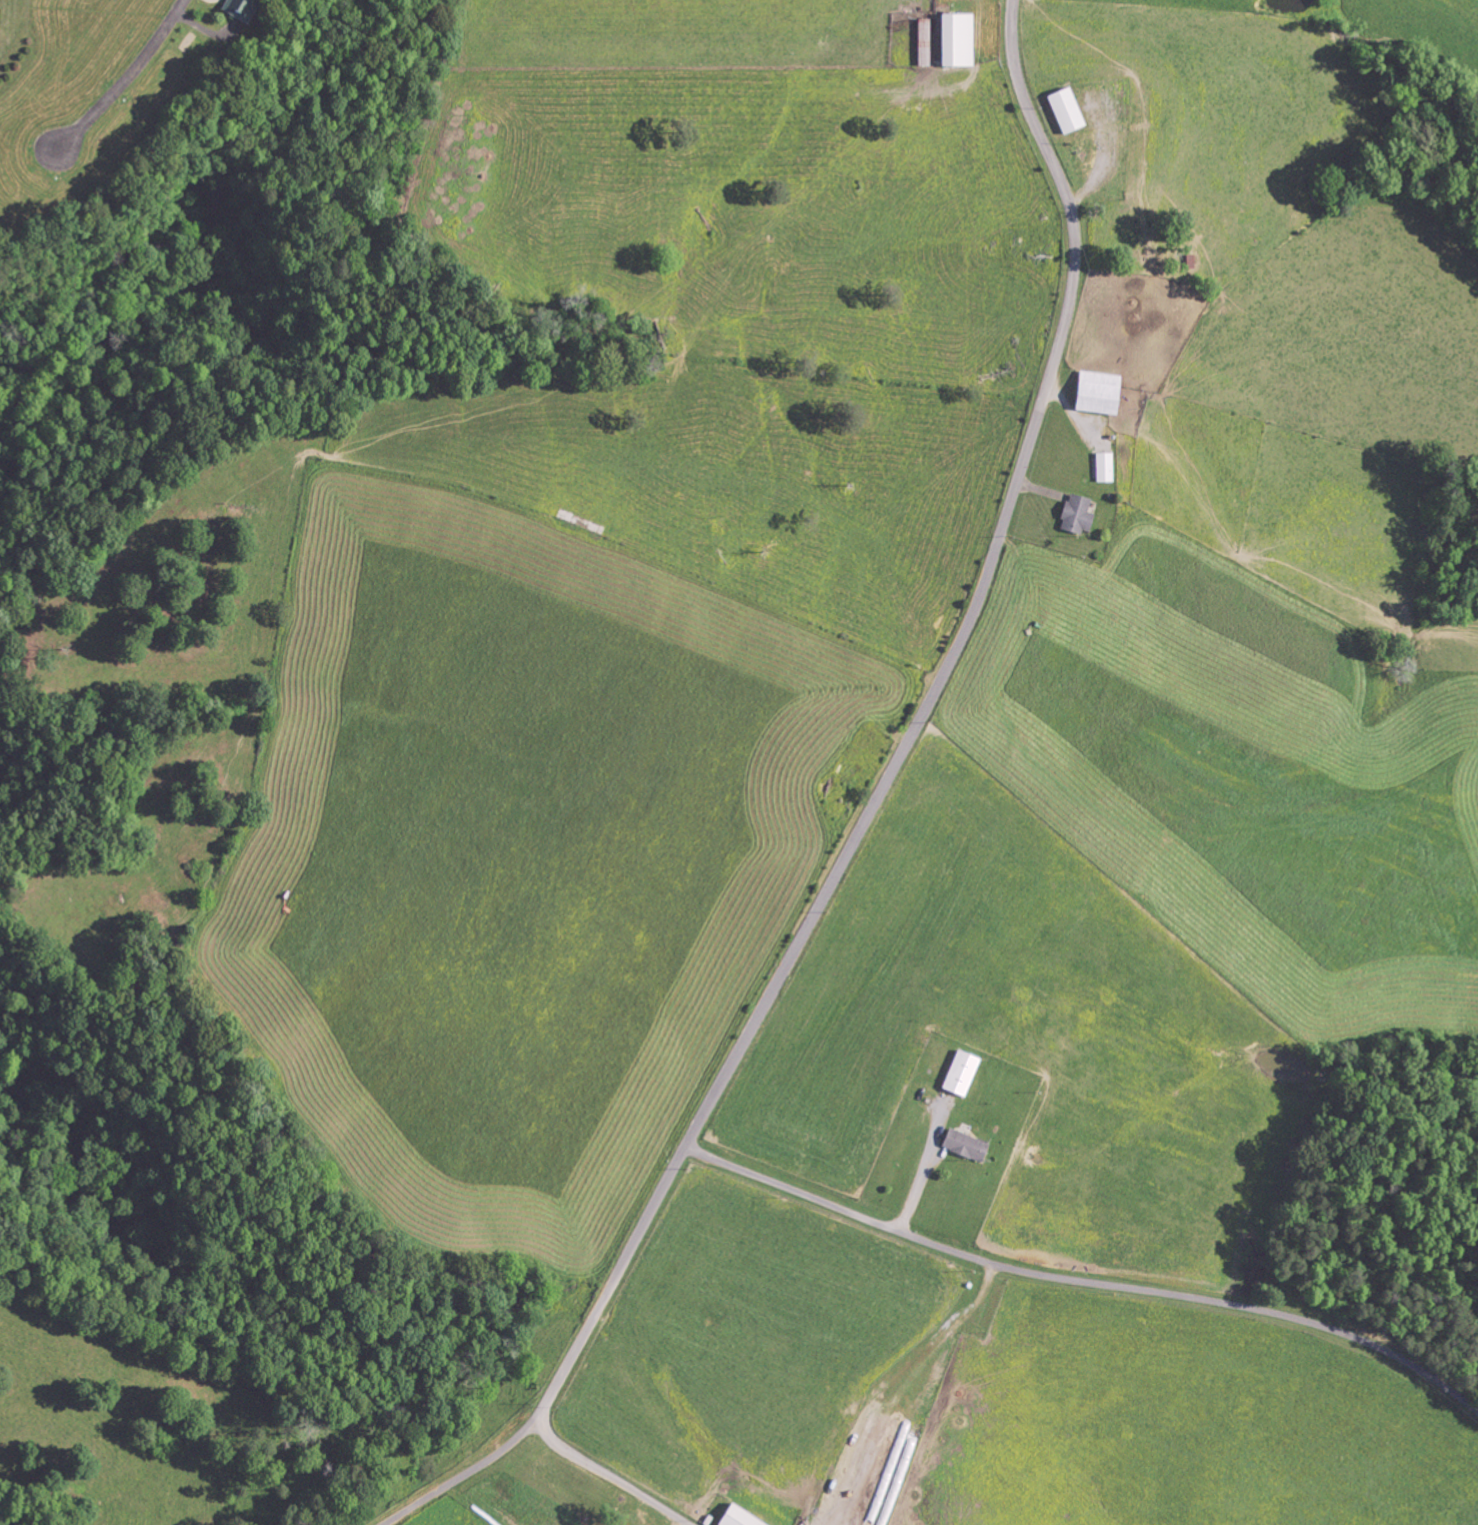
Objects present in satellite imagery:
building: (237, 9)
building: (955, 40)
road: (129, 79)
building: (1095, 393)
building: (1074, 515)
road: (867, 819)
building: (959, 1073)
building: (963, 1144)
road: (1084, 1281)
road: (470, 1504)
building: (735, 1517)

